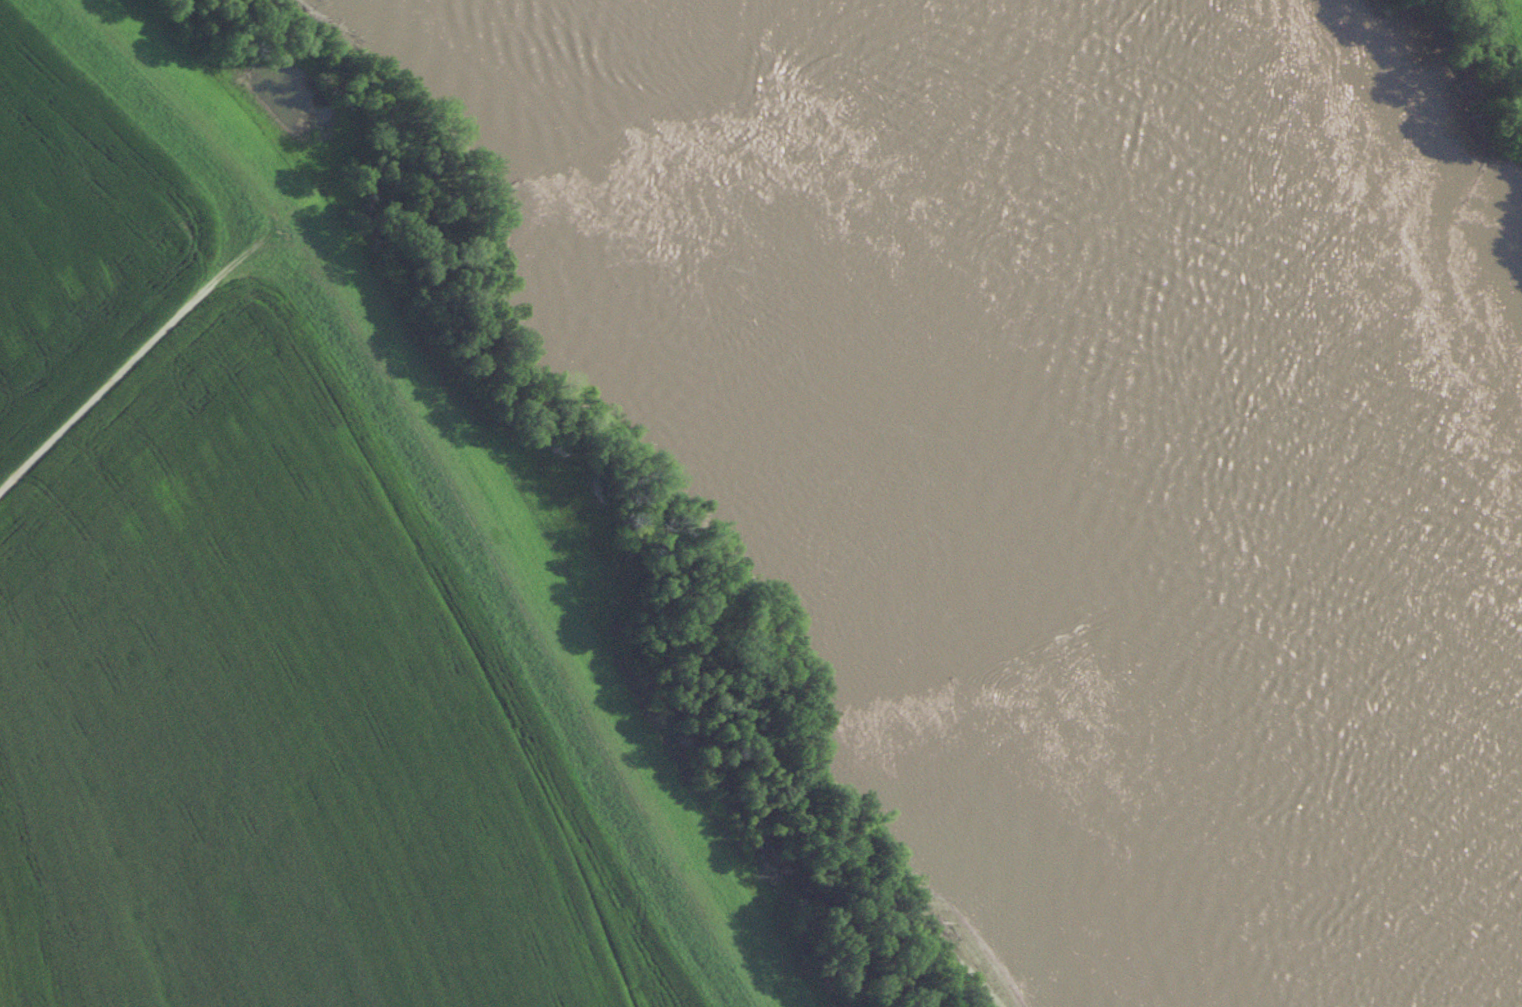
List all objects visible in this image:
road: (115, 375)
river: (1127, 470)

